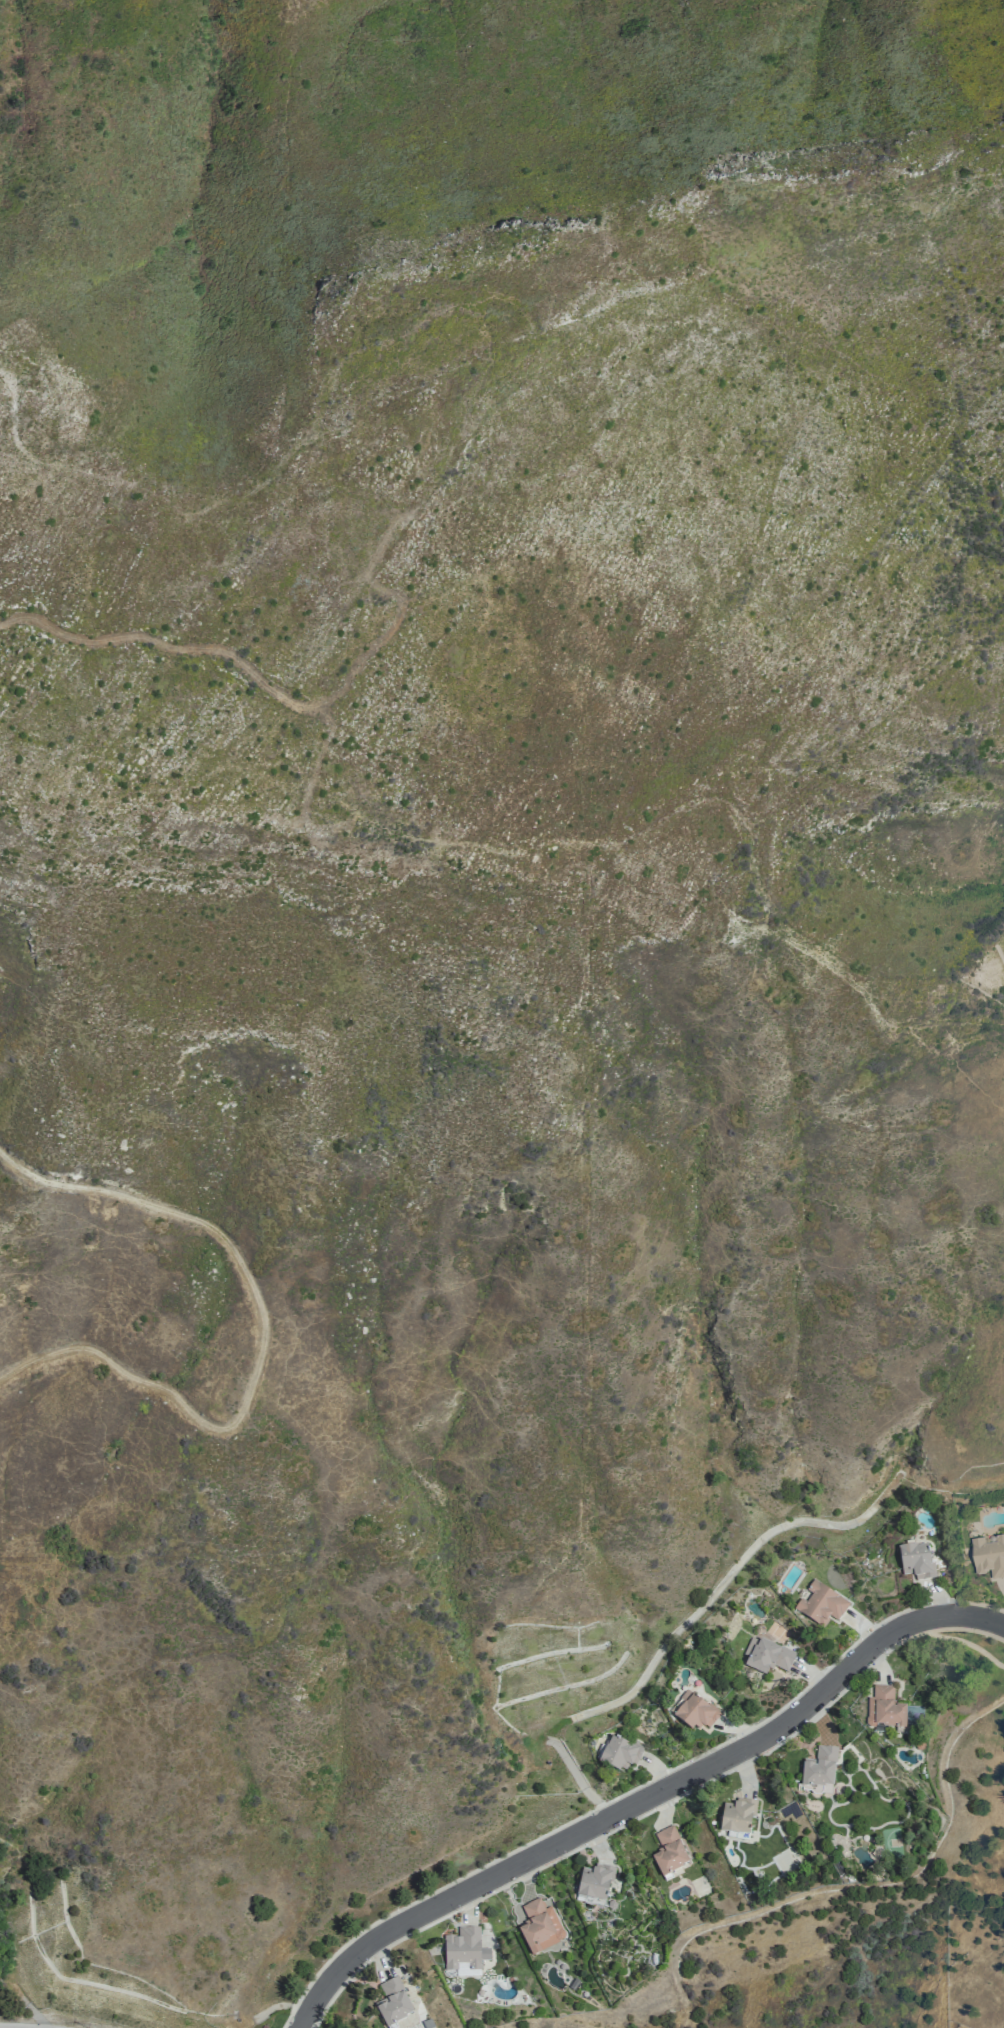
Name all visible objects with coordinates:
road: (197, 646)
road: (263, 1338)
building: (990, 1554)
building: (917, 1560)
building: (822, 1604)
building: (768, 1655)
road: (612, 1696)
building: (886, 1709)
building: (696, 1711)
building: (921, 1744)
building: (621, 1753)
building: (821, 1770)
road: (642, 1799)
building: (739, 1817)
building: (670, 1851)
building: (596, 1884)
building: (613, 1904)
building: (541, 1926)
building: (466, 1951)
building: (575, 1983)
building: (452, 1986)
building: (394, 2002)
road: (68, 2012)

